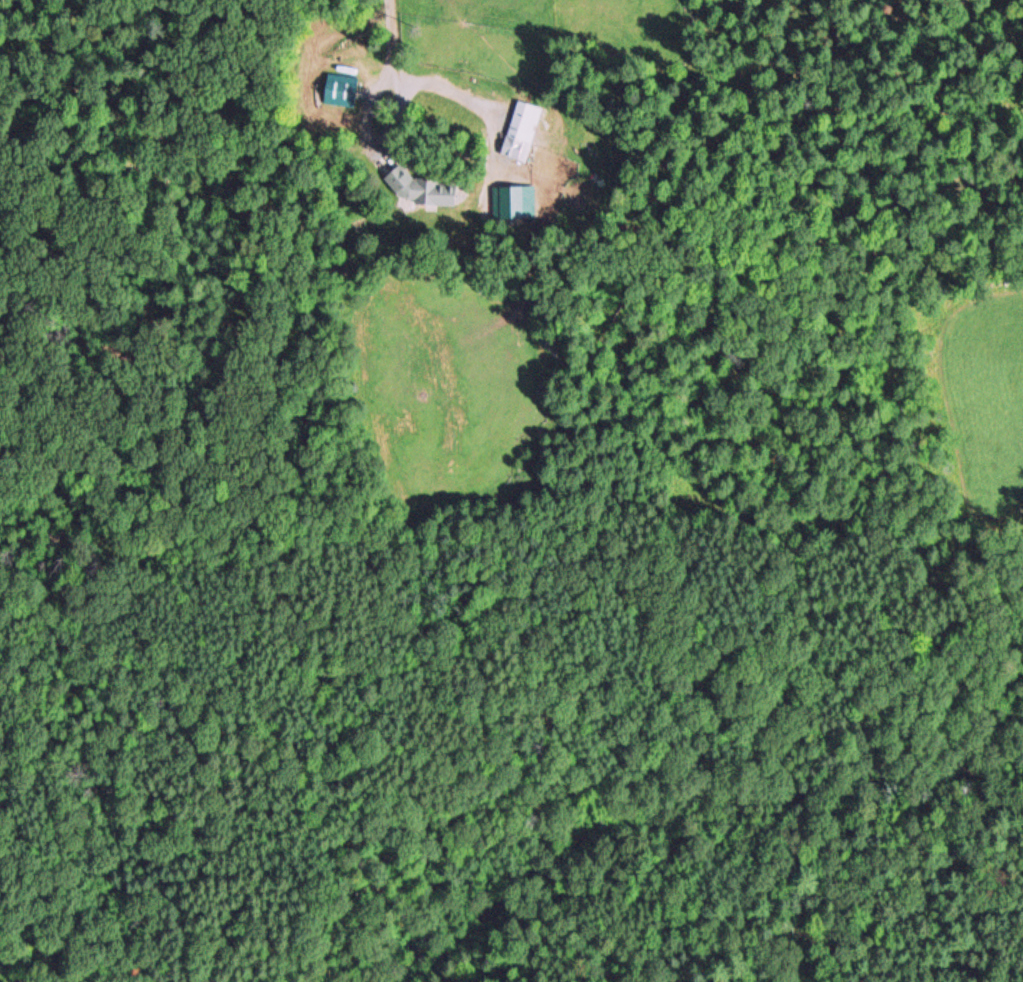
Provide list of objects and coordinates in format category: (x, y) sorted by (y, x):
road: (385, 42)
building: (341, 90)
building: (522, 130)

